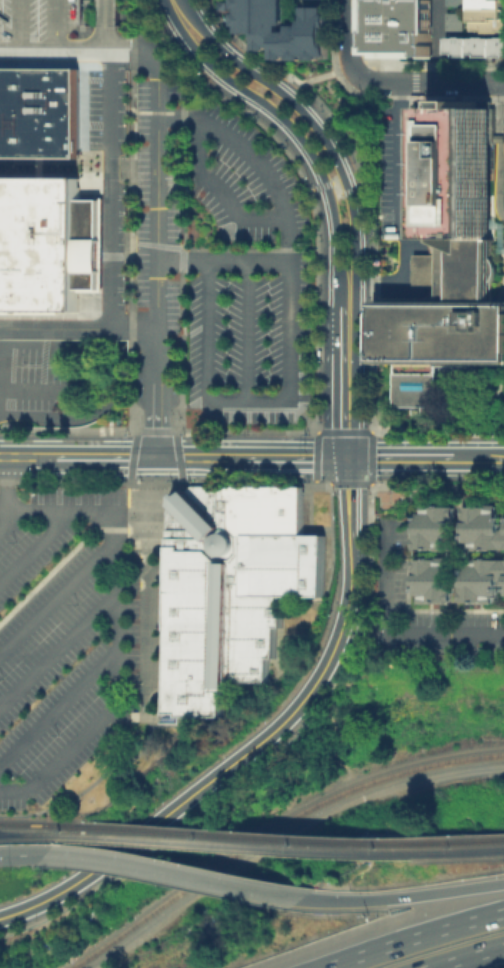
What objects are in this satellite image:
building: (322, 0)
building: (458, 3)
road: (121, 11)
building: (489, 16)
road: (134, 18)
building: (458, 23)
road: (19, 26)
road: (55, 26)
building: (399, 27)
building: (280, 29)
building: (61, 33)
parking lot: (61, 33)
road: (349, 39)
road: (439, 41)
building: (477, 48)
road: (226, 52)
road: (139, 53)
road: (203, 62)
road: (316, 78)
road: (430, 82)
road: (184, 86)
building: (38, 110)
road: (112, 134)
road: (365, 134)
road: (219, 189)
road: (326, 193)
road: (404, 209)
road: (286, 221)
building: (46, 241)
parking lot: (209, 242)
road: (131, 249)
road: (312, 249)
road: (224, 261)
road: (358, 261)
road: (157, 263)
building: (452, 272)
road: (337, 326)
road: (78, 328)
road: (206, 331)
road: (247, 331)
road: (97, 364)
parking lot: (35, 377)
road: (247, 402)
road: (181, 405)
road: (337, 405)
road: (86, 412)
road: (303, 415)
road: (166, 430)
road: (134, 446)
road: (369, 449)
road: (317, 454)
road: (24, 456)
road: (102, 456)
road: (178, 456)
traffic signals: (157, 457)
road: (193, 457)
road: (289, 457)
traffic signals: (349, 457)
road: (401, 458)
road: (479, 458)
road: (64, 481)
road: (314, 481)
road: (156, 482)
road: (328, 483)
road: (371, 484)
road: (7, 494)
road: (350, 497)
road: (459, 519)
building: (435, 525)
building: (483, 526)
road: (37, 542)
road: (449, 546)
road: (429, 553)
road: (486, 553)
road: (351, 554)
road: (69, 557)
building: (459, 558)
road: (387, 575)
building: (435, 578)
building: (482, 578)
road: (459, 585)
road: (327, 586)
building: (229, 590)
road: (58, 595)
road: (149, 599)
road: (409, 601)
parking lot: (440, 617)
road: (116, 620)
road: (422, 633)
parking lot: (64, 638)
road: (58, 648)
road: (58, 707)
road: (132, 715)
road: (307, 717)
road: (215, 777)
road: (91, 784)
railway: (38, 823)
railway: (270, 827)
railway: (32, 833)
road: (280, 833)
railway: (245, 835)
railway: (118, 837)
railway: (459, 839)
railway: (292, 848)
railway: (460, 850)
road: (21, 853)
road: (174, 872)
road: (404, 895)
road: (412, 936)
road: (464, 955)

